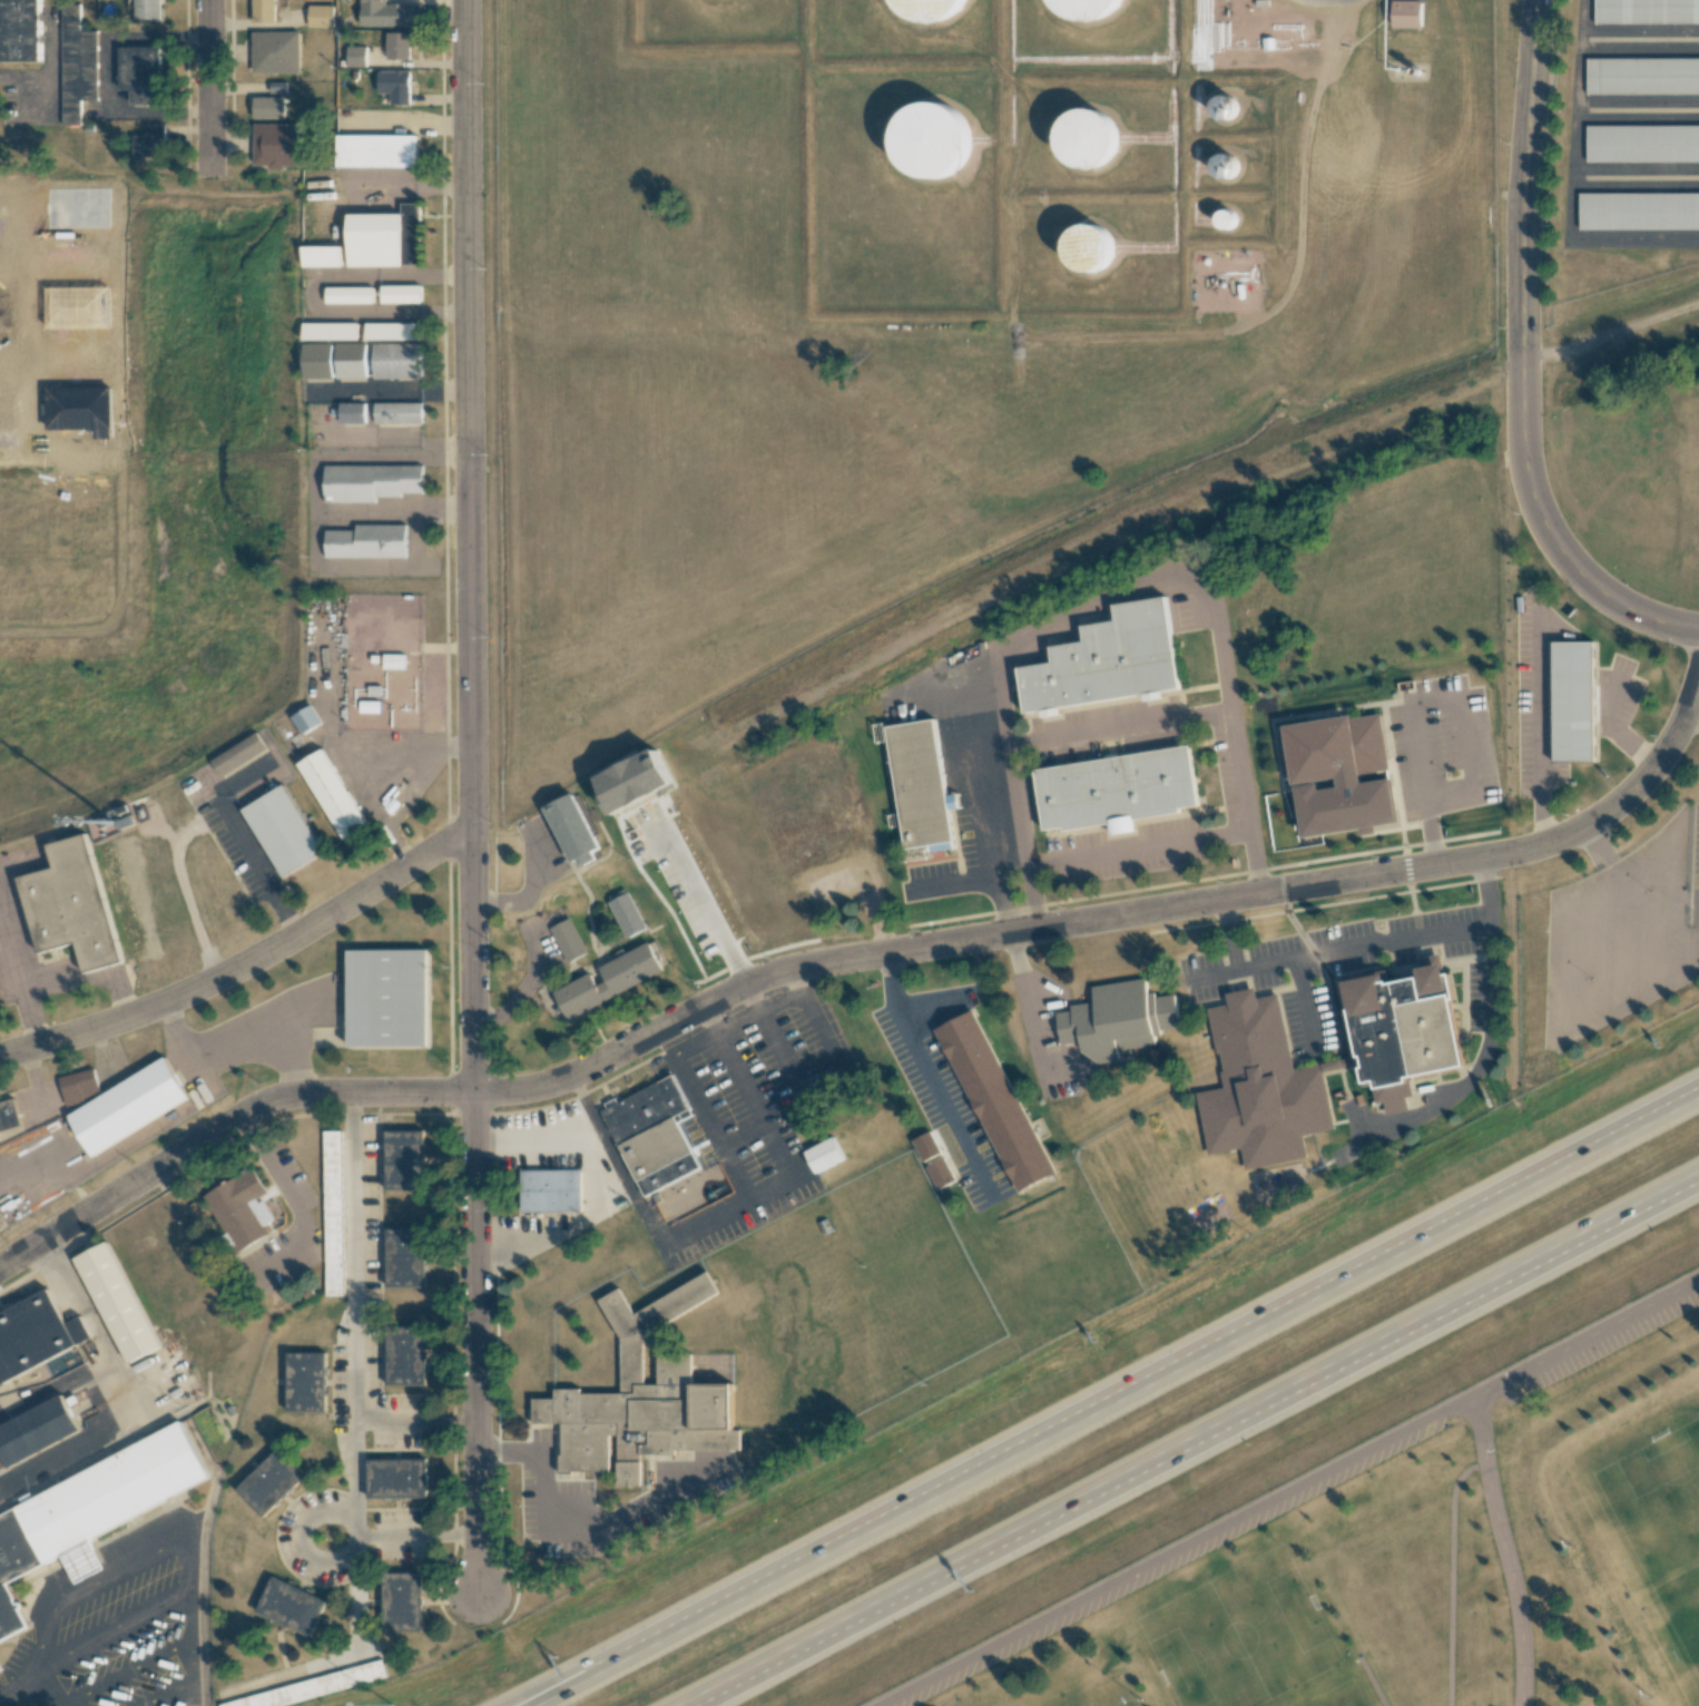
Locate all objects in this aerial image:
building: (933, 8)
building: (1084, 8)
building: (147, 9)
building: (263, 11)
building: (1646, 11)
building: (1406, 13)
building: (389, 14)
building: (321, 16)
building: (20, 30)
building: (397, 46)
building: (275, 51)
building: (355, 56)
building: (77, 65)
building: (140, 75)
building: (1642, 76)
road: (208, 86)
building: (394, 86)
building: (277, 87)
building: (268, 107)
building: (1225, 107)
building: (1087, 138)
building: (930, 139)
building: (150, 143)
building: (1642, 143)
building: (276, 145)
building: (375, 150)
building: (1226, 166)
road: (1297, 184)
building: (1638, 210)
building: (1225, 218)
building: (385, 238)
building: (1089, 249)
building: (322, 256)
building: (401, 294)
building: (350, 295)
building: (331, 331)
building: (393, 332)
building: (351, 360)
building: (317, 361)
building: (397, 361)
road: (1523, 361)
building: (397, 412)
building: (352, 413)
building: (370, 482)
building: (366, 541)
road: (470, 546)
road: (1038, 629)
building: (393, 660)
building: (1107, 660)
road: (1425, 702)
building: (1572, 702)
road: (1693, 709)
building: (306, 719)
road: (1107, 731)
road: (1618, 731)
road: (1541, 747)
building: (1336, 749)
building: (237, 754)
building: (631, 768)
building: (920, 785)
building: (1116, 790)
building: (332, 794)
building: (282, 830)
building: (573, 831)
building: (747, 836)
road: (1081, 856)
road: (258, 869)
road: (1627, 881)
road: (528, 894)
road: (697, 898)
building: (70, 904)
building: (626, 912)
road: (1116, 915)
building: (567, 940)
road: (1357, 945)
road: (248, 964)
road: (1212, 975)
building: (609, 980)
building: (386, 997)
road: (1305, 1006)
building: (1116, 1020)
building: (1404, 1060)
road: (1476, 1067)
road: (930, 1075)
building: (79, 1086)
building: (994, 1099)
building: (128, 1106)
building: (8, 1115)
road: (219, 1129)
building: (652, 1135)
building: (823, 1155)
building: (403, 1159)
building: (940, 1173)
building: (550, 1189)
building: (240, 1208)
building: (332, 1213)
building: (1, 1227)
building: (404, 1257)
building: (117, 1301)
road: (80, 1302)
road: (1578, 1316)
building: (35, 1335)
road: (475, 1343)
building: (405, 1356)
road: (354, 1376)
road: (1146, 1380)
building: (305, 1381)
road: (56, 1390)
building: (641, 1398)
road: (415, 1420)
building: (36, 1430)
road: (95, 1439)
road: (1191, 1442)
building: (396, 1478)
building: (269, 1482)
building: (94, 1504)
park: (1660, 1519)
road: (571, 1526)
road: (1155, 1538)
park: (1378, 1538)
road: (1504, 1553)
road: (186, 1556)
parking lot: (1141, 1559)
road: (336, 1561)
road: (1453, 1573)
building: (401, 1601)
building: (291, 1607)
road: (189, 1616)
park: (1247, 1643)
road: (167, 1647)
road: (1371, 1683)
road: (31, 1685)
building: (310, 1688)
road: (557, 1688)
road: (562, 1688)
road: (51, 1694)
park: (1101, 1695)
street lamp: (392, 1705)

